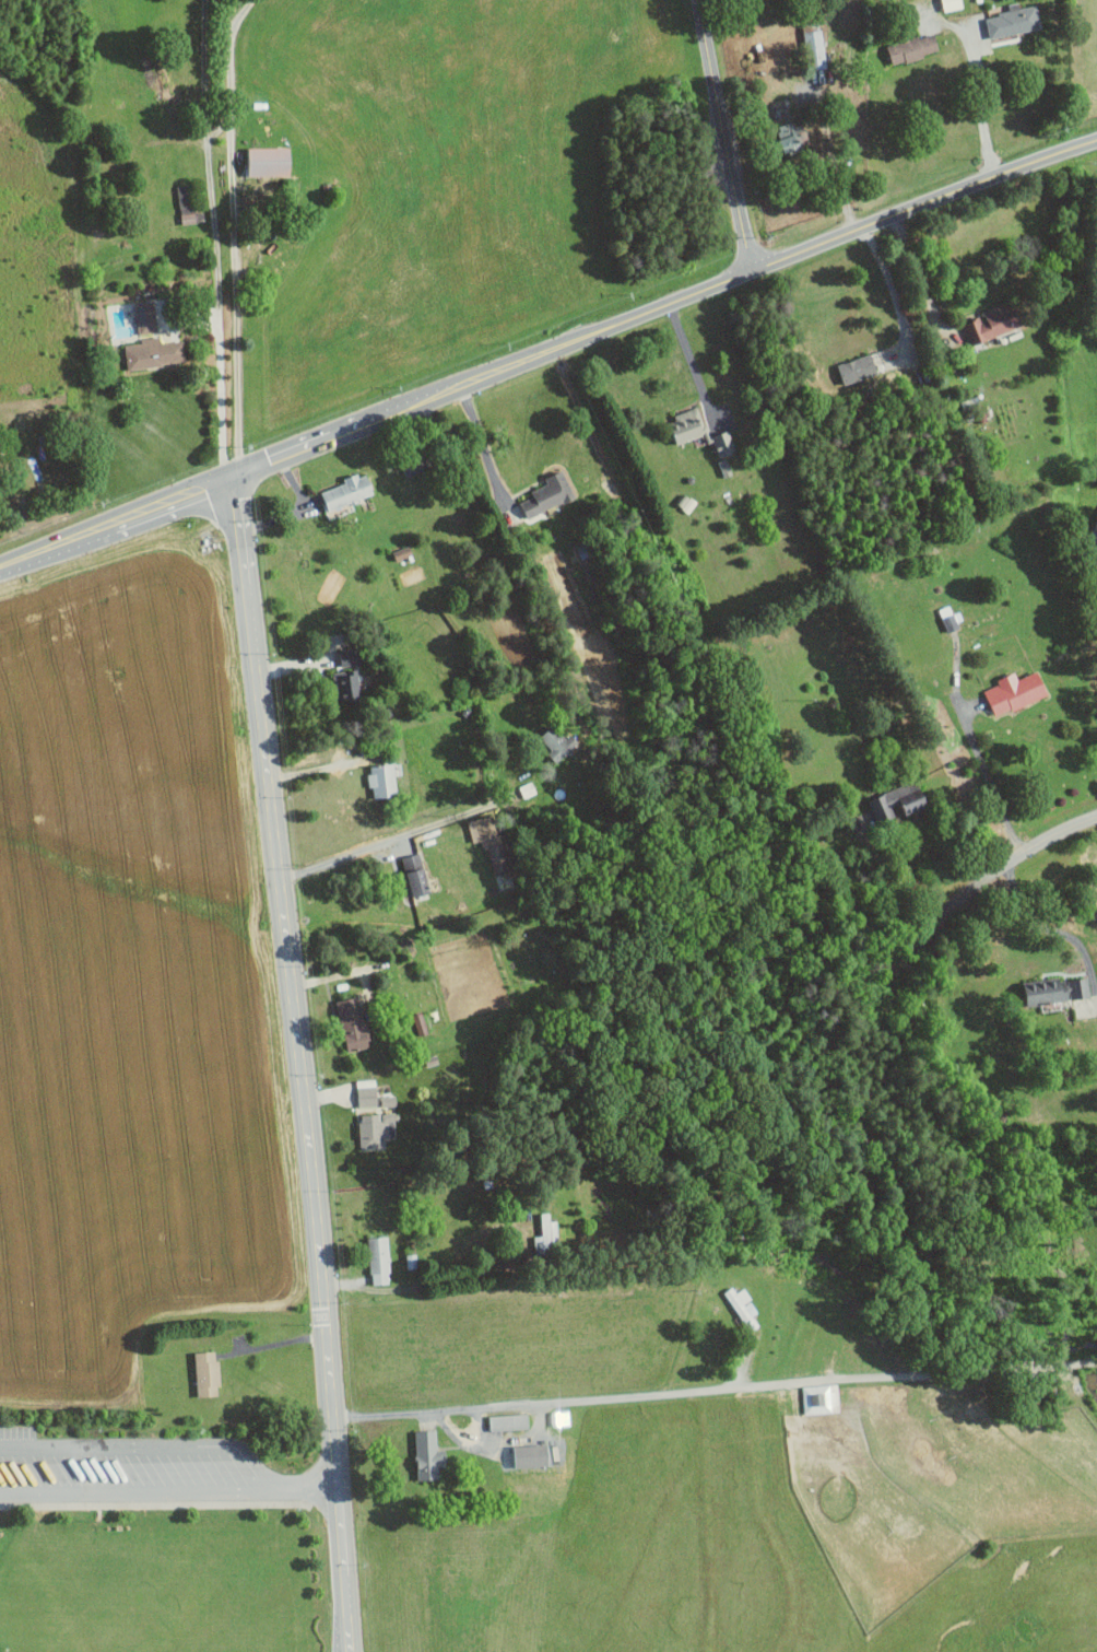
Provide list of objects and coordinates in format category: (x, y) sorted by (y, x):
building: (951, 4)
building: (1013, 21)
building: (912, 48)
building: (817, 49)
road: (979, 105)
road: (723, 136)
building: (792, 137)
building: (269, 162)
building: (187, 206)
road: (233, 235)
road: (216, 238)
road: (917, 274)
road: (892, 284)
building: (145, 316)
building: (994, 320)
road: (547, 351)
building: (152, 352)
road: (692, 365)
building: (857, 368)
building: (688, 424)
road: (482, 443)
building: (723, 443)
building: (414, 462)
building: (724, 467)
building: (347, 491)
building: (547, 494)
building: (349, 656)
building: (346, 684)
building: (1015, 691)
building: (557, 742)
road: (318, 769)
building: (381, 780)
road: (989, 781)
building: (898, 800)
building: (488, 840)
road: (377, 844)
building: (417, 882)
road: (978, 888)
road: (881, 890)
road: (1048, 928)
building: (1057, 989)
building: (352, 1023)
road: (299, 1063)
building: (367, 1096)
building: (387, 1100)
building: (377, 1129)
building: (546, 1235)
building: (379, 1261)
building: (411, 1261)
building: (743, 1308)
road: (271, 1344)
building: (207, 1373)
road: (715, 1393)
building: (821, 1399)
building: (559, 1418)
building: (508, 1422)
road: (496, 1441)
road: (145, 1448)
building: (428, 1455)
building: (531, 1455)
parking lot: (125, 1469)
road: (168, 1492)
road: (153, 1505)

